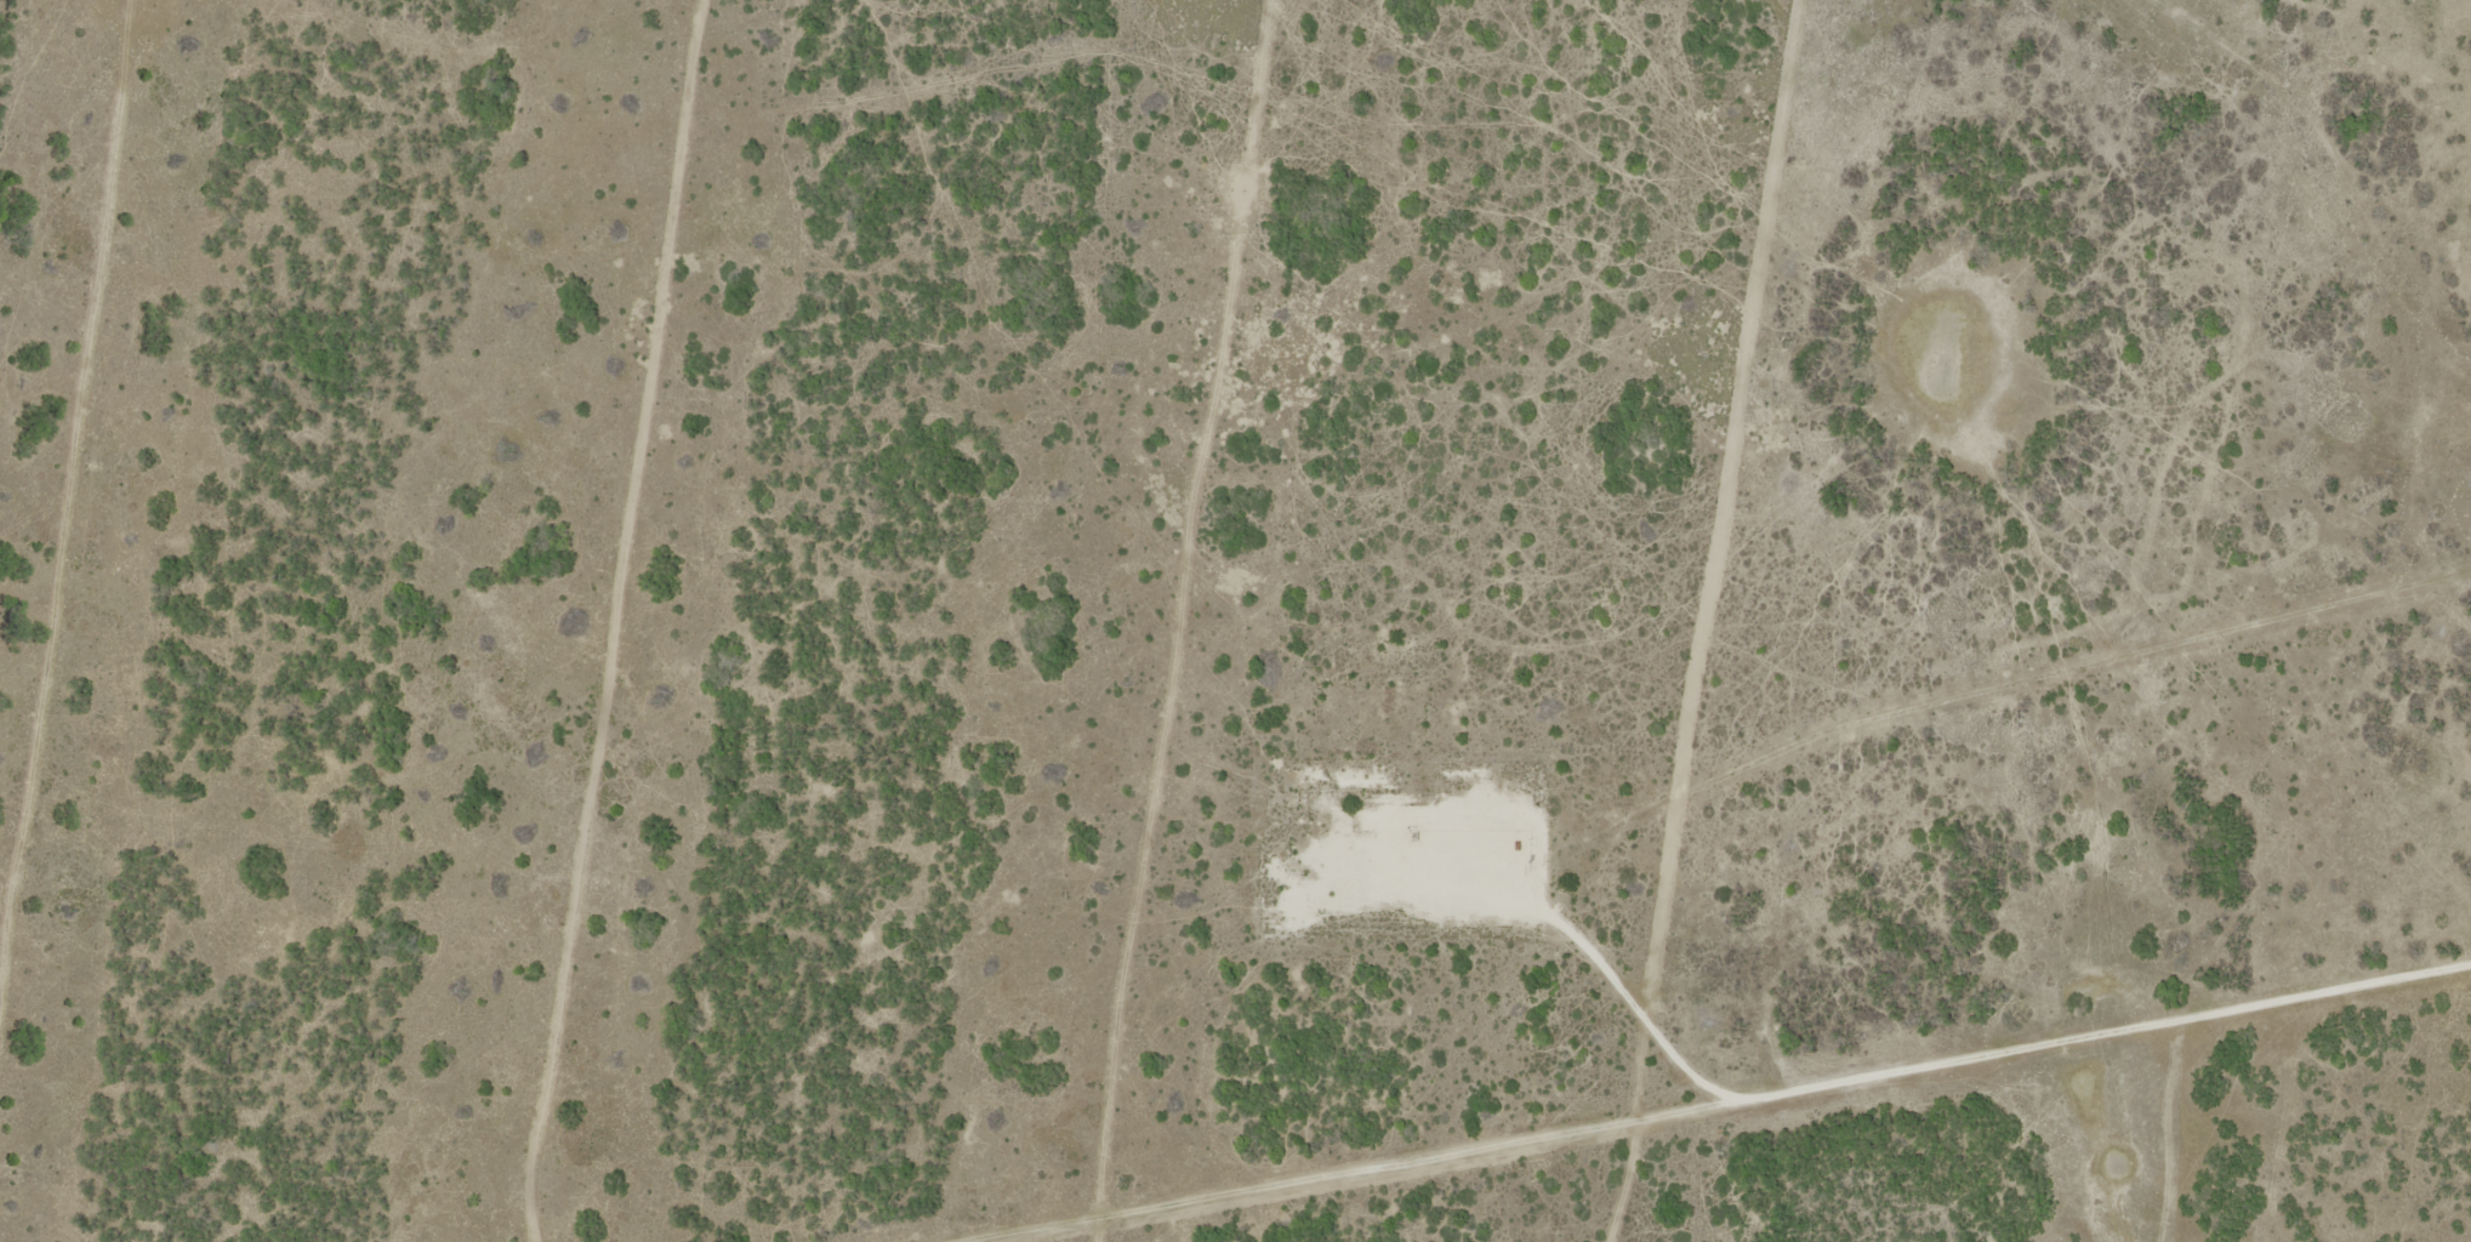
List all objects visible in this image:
road: (1568, 972)
road: (2083, 1055)

